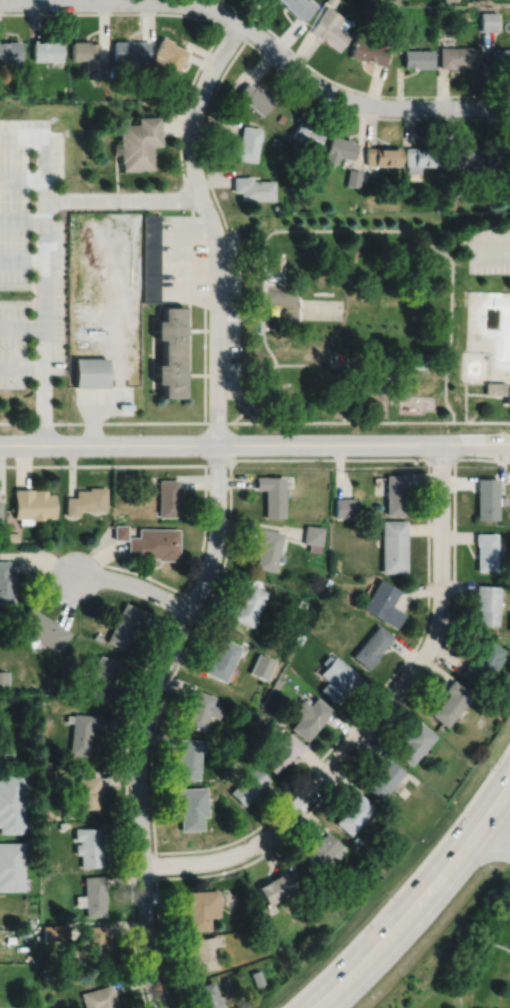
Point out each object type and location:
building: (330, 2)
building: (299, 7)
building: (468, 14)
road: (210, 21)
building: (488, 21)
building: (331, 28)
road: (261, 36)
building: (370, 50)
building: (10, 51)
building: (46, 51)
building: (85, 52)
building: (130, 52)
building: (457, 57)
building: (501, 57)
building: (418, 58)
building: (168, 60)
building: (113, 67)
building: (102, 69)
road: (350, 87)
building: (254, 98)
road: (353, 111)
building: (280, 117)
road: (205, 130)
building: (307, 135)
building: (273, 141)
building: (138, 143)
building: (246, 144)
building: (340, 149)
building: (498, 156)
road: (42, 157)
building: (382, 157)
building: (469, 158)
building: (422, 159)
road: (21, 178)
building: (353, 178)
building: (364, 178)
building: (453, 187)
building: (252, 189)
road: (46, 199)
road: (126, 199)
building: (275, 207)
building: (439, 207)
building: (362, 209)
road: (21, 219)
road: (212, 225)
road: (318, 229)
road: (456, 240)
road: (491, 244)
parking lot: (489, 247)
parking lot: (30, 248)
building: (150, 256)
road: (21, 260)
road: (21, 284)
road: (43, 294)
road: (178, 299)
road: (21, 302)
road: (450, 305)
parking lot: (231, 311)
road: (159, 316)
road: (257, 316)
park: (372, 323)
building: (171, 327)
road: (153, 328)
road: (197, 328)
road: (188, 336)
road: (157, 341)
road: (43, 350)
road: (264, 352)
building: (257, 358)
building: (334, 358)
building: (417, 359)
road: (157, 361)
road: (204, 362)
road: (352, 362)
road: (21, 365)
building: (90, 370)
road: (154, 372)
building: (171, 372)
road: (195, 373)
building: (498, 389)
road: (484, 393)
road: (464, 400)
road: (42, 408)
road: (238, 412)
road: (343, 414)
road: (481, 420)
road: (113, 421)
road: (240, 421)
road: (254, 442)
building: (271, 493)
building: (395, 493)
building: (167, 497)
building: (486, 497)
building: (85, 500)
building: (31, 504)
building: (345, 506)
building: (0, 513)
building: (119, 531)
building: (12, 535)
building: (313, 536)
building: (153, 543)
building: (393, 545)
building: (266, 548)
building: (485, 550)
building: (326, 581)
building: (6, 582)
road: (134, 584)
building: (247, 603)
building: (301, 603)
building: (383, 603)
building: (486, 603)
building: (124, 624)
building: (39, 630)
building: (97, 636)
building: (298, 637)
building: (372, 646)
building: (221, 659)
building: (483, 662)
building: (261, 666)
building: (102, 677)
building: (336, 678)
building: (3, 679)
building: (276, 683)
building: (450, 703)
building: (200, 710)
building: (244, 712)
road: (374, 713)
building: (256, 717)
building: (309, 717)
road: (144, 719)
building: (81, 732)
building: (413, 742)
building: (225, 746)
building: (279, 750)
building: (189, 758)
building: (50, 776)
building: (383, 780)
building: (248, 786)
building: (88, 792)
road: (497, 801)
building: (10, 803)
building: (191, 808)
building: (353, 815)
road: (497, 825)
road: (496, 836)
building: (356, 840)
building: (89, 846)
building: (321, 848)
building: (10, 867)
building: (275, 886)
building: (306, 889)
building: (93, 894)
building: (201, 905)
building: (255, 916)
road: (405, 918)
building: (27, 923)
building: (54, 931)
building: (261, 936)
building: (9, 937)
building: (95, 943)
building: (202, 953)
building: (50, 974)
building: (256, 976)
building: (227, 982)
building: (208, 995)
building: (100, 997)

